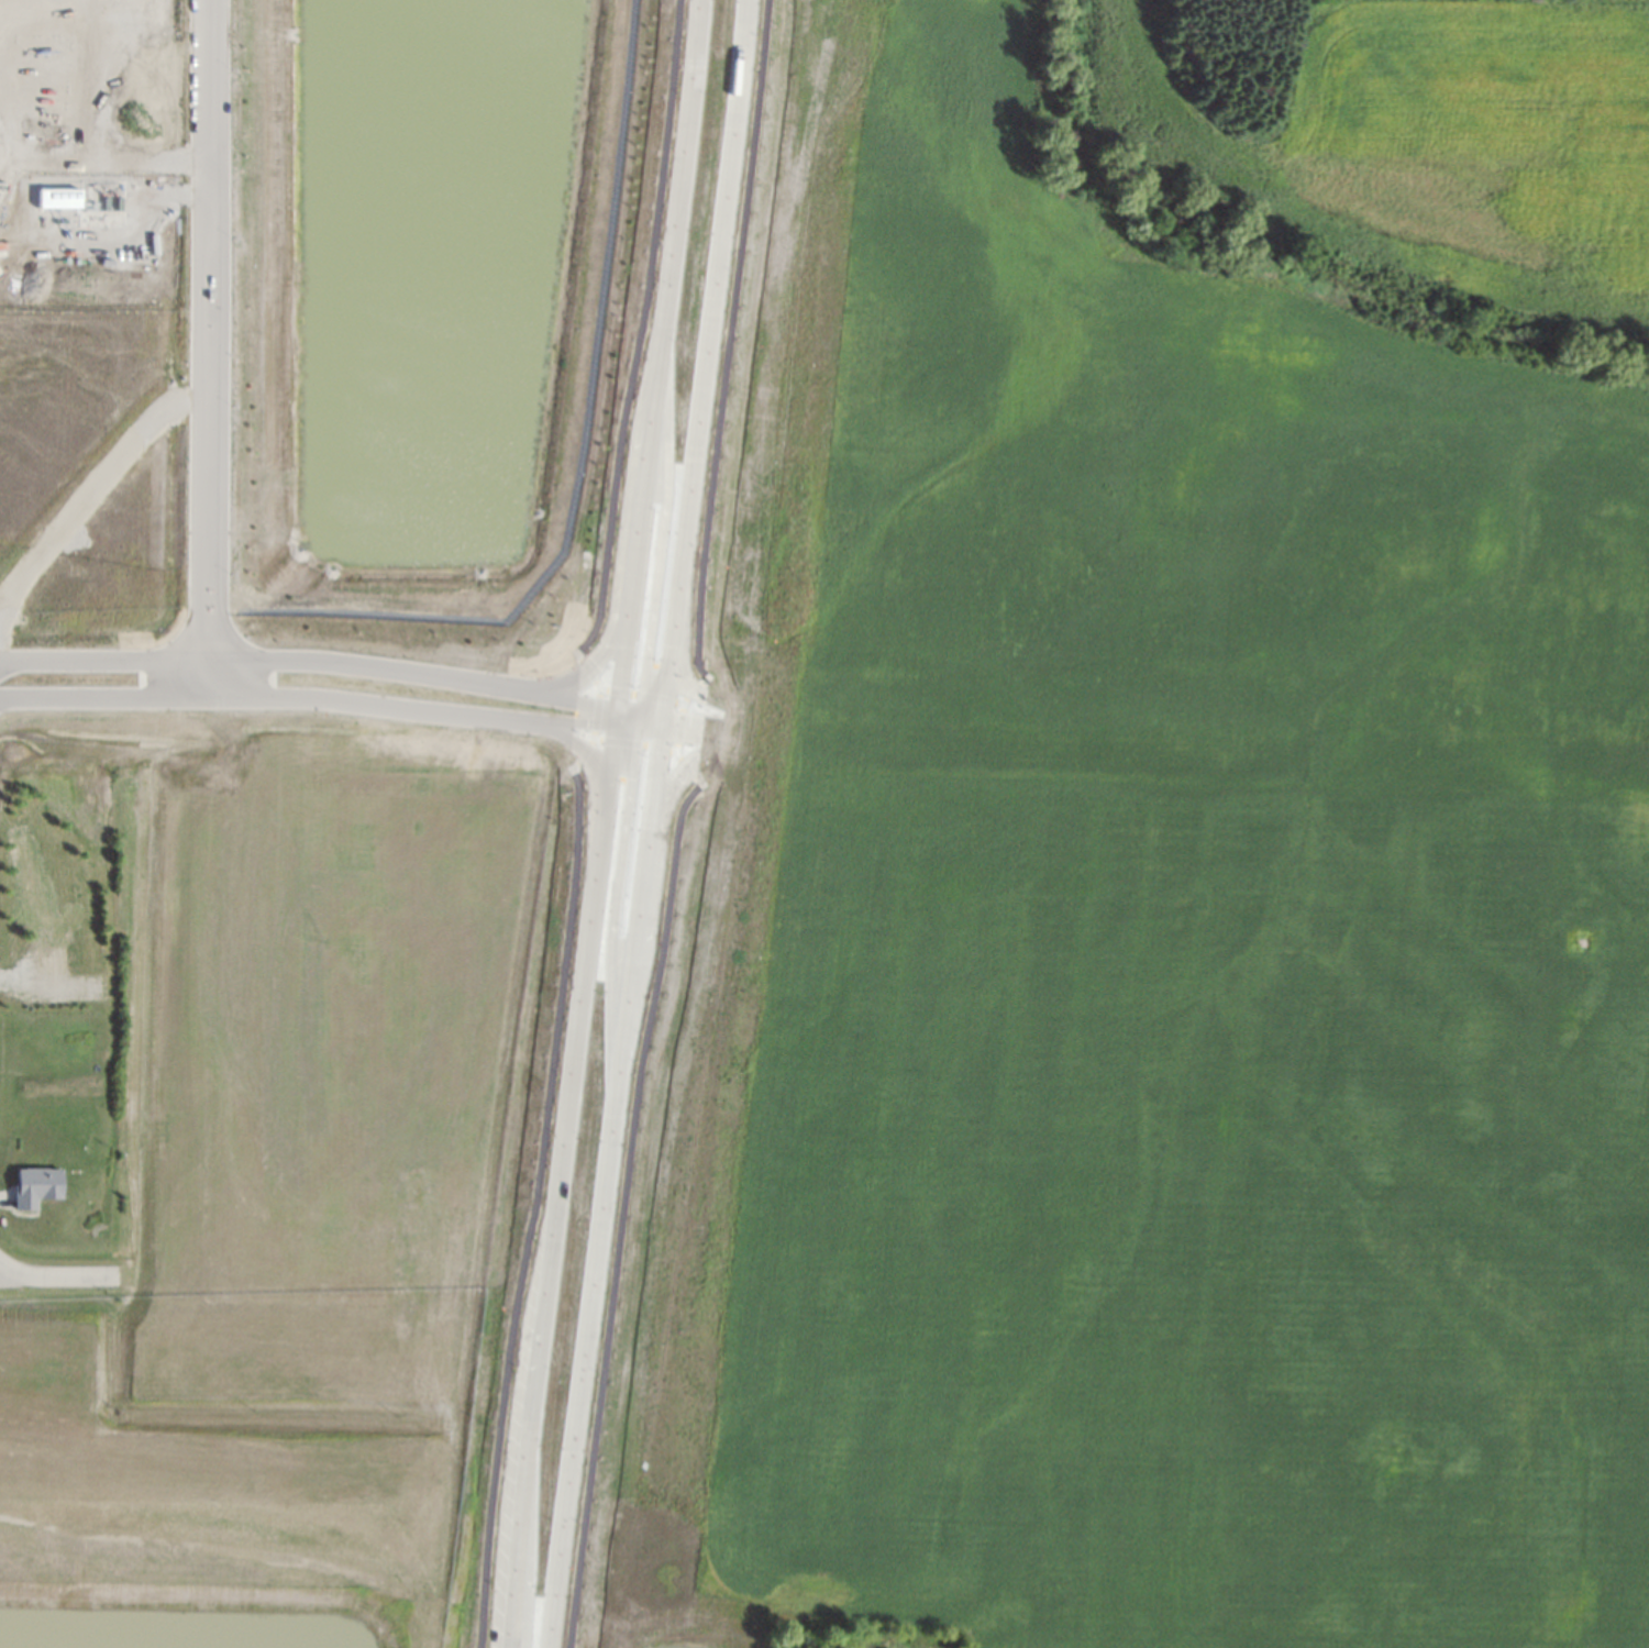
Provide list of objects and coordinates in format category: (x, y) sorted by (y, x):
road: (89, 126)
road: (207, 328)
road: (640, 328)
road: (663, 349)
road: (702, 353)
road: (659, 540)
road: (623, 551)
road: (8, 660)
road: (311, 660)
road: (208, 676)
road: (309, 699)
road: (632, 699)
road: (655, 704)
road: (634, 711)
road: (619, 712)
road: (649, 722)
road: (667, 722)
road: (628, 730)
road: (653, 734)
road: (576, 745)
road: (667, 799)
road: (679, 820)
road: (615, 914)
building: (95, 1055)
road: (541, 1146)
building: (33, 1185)
road: (555, 1187)
road: (600, 1192)
road: (5, 1199)
road: (9, 1269)
road: (56, 1274)

